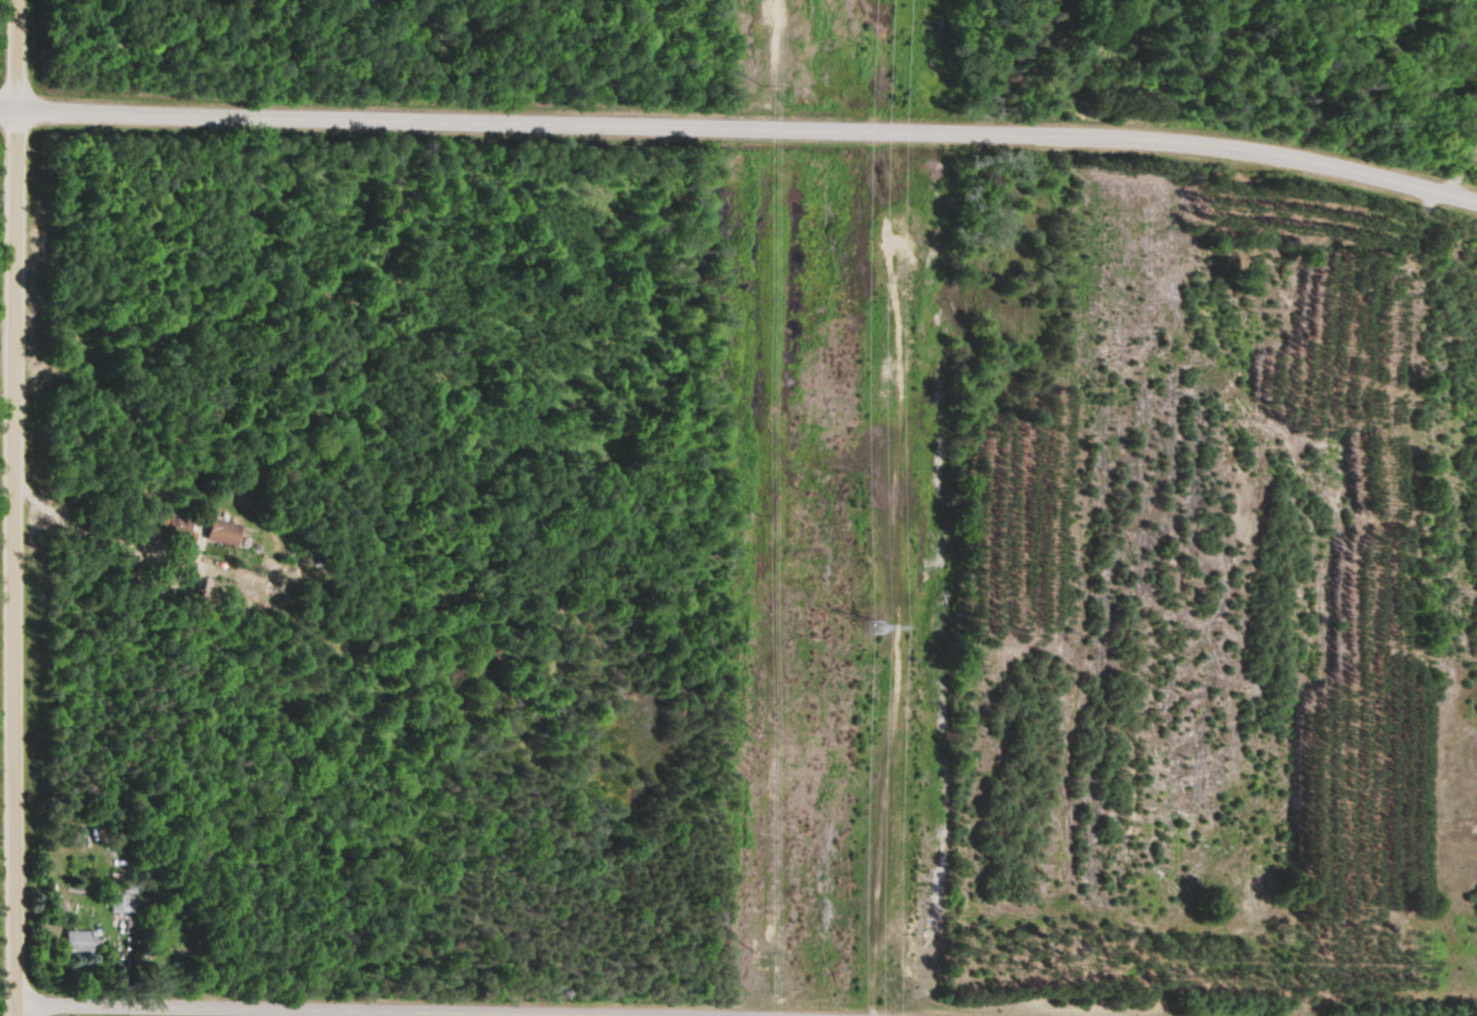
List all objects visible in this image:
road: (13, 54)
road: (741, 126)
building: (224, 532)
road: (117, 543)
road: (8, 563)
power tower: (868, 621)
building: (122, 903)
building: (80, 942)
road: (360, 1008)

